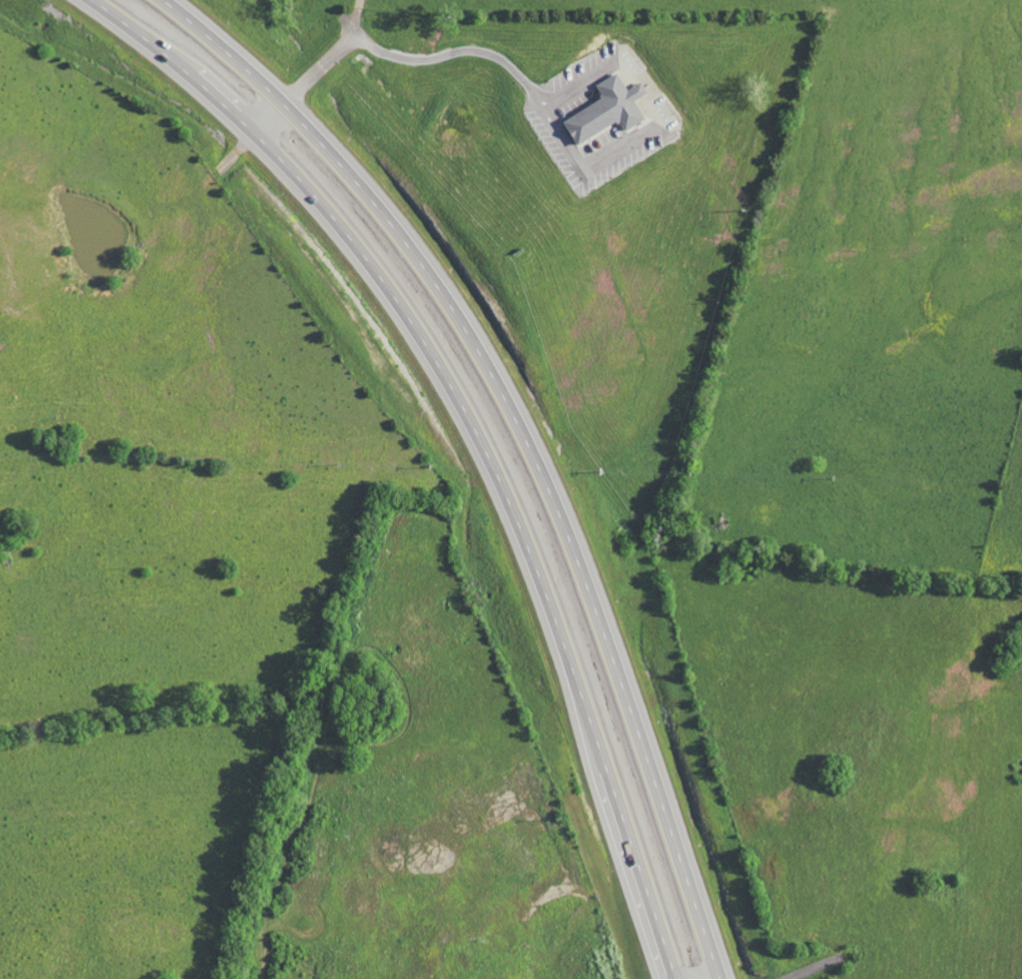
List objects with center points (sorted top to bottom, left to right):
road: (357, 33)
road: (287, 99)
building: (605, 109)
road: (478, 433)
road: (528, 440)

